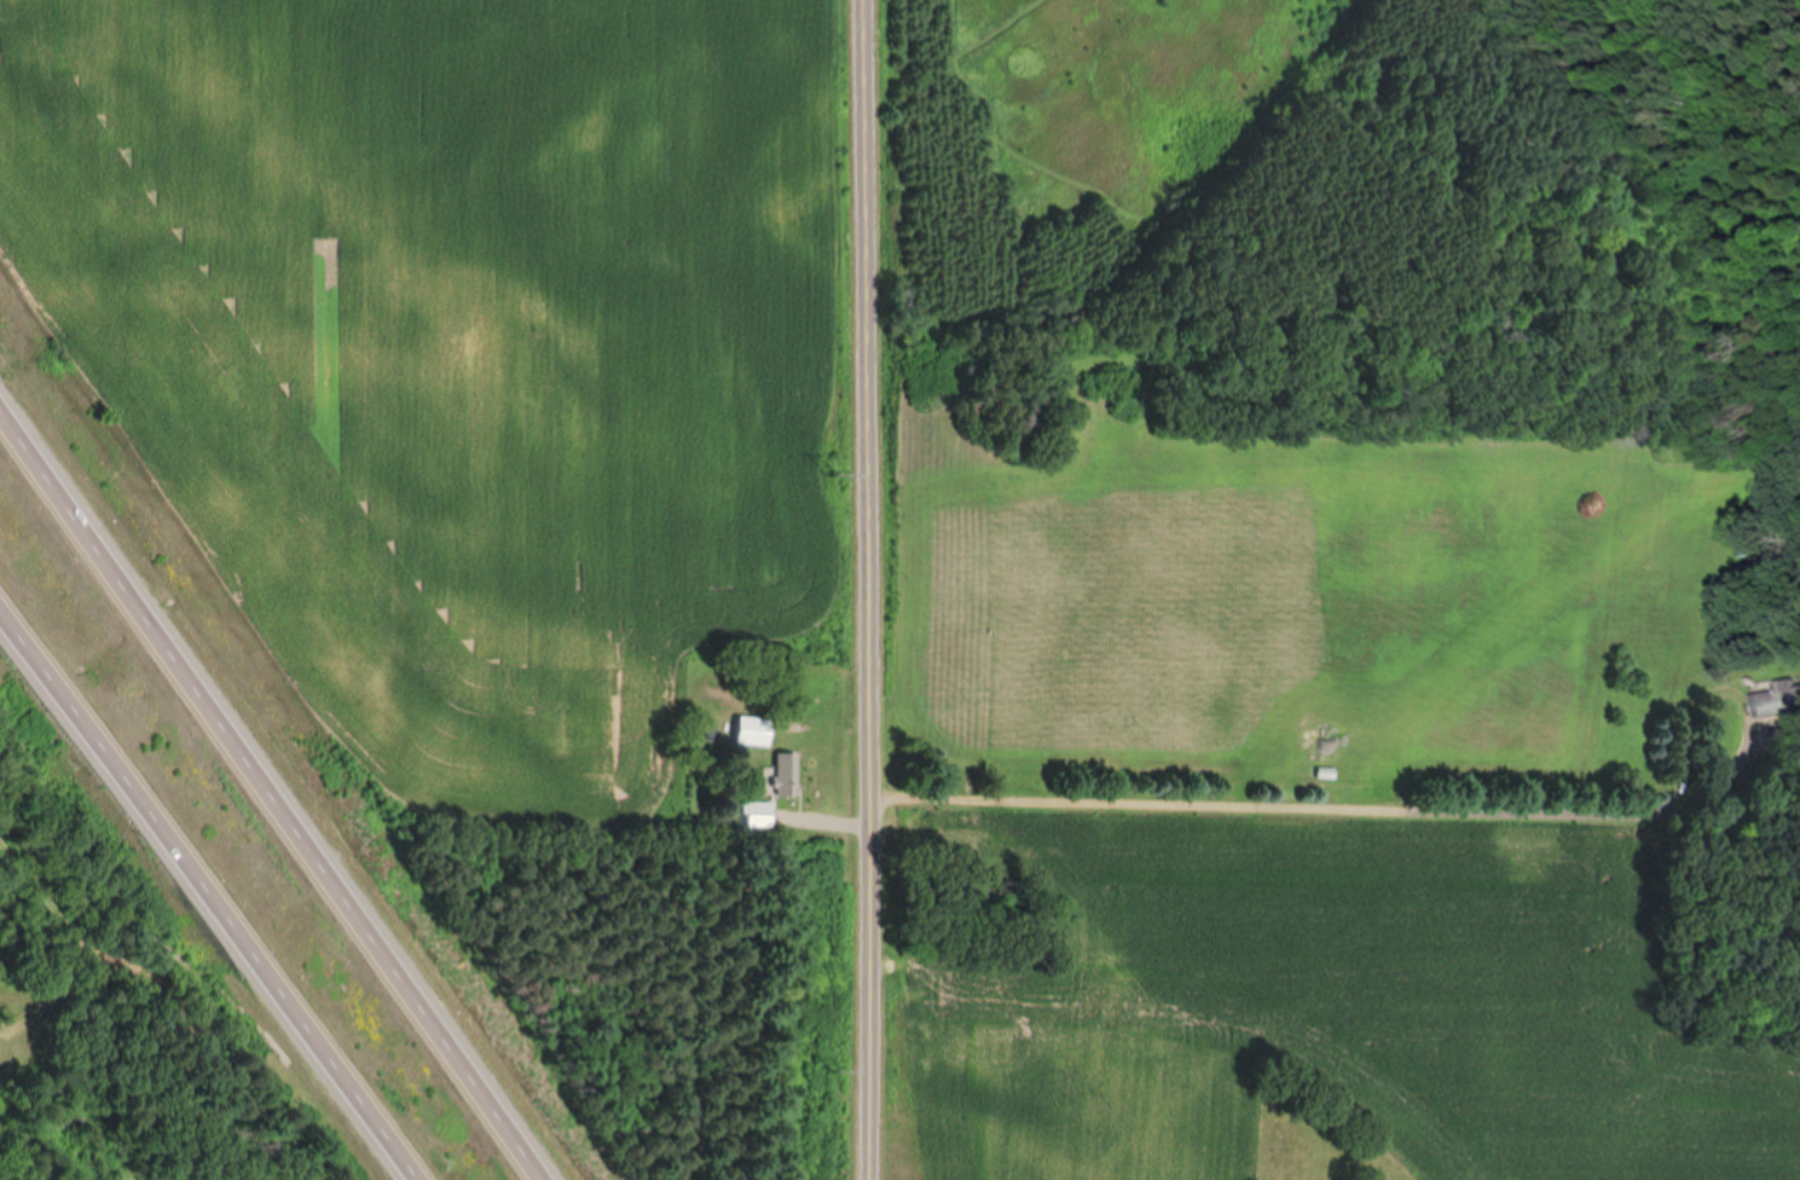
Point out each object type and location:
power tower: (833, 473)
road: (868, 589)
building: (1783, 689)
building: (756, 727)
building: (791, 771)
road: (272, 797)
road: (1332, 797)
building: (756, 815)
road: (215, 885)
power tower: (833, 1071)

